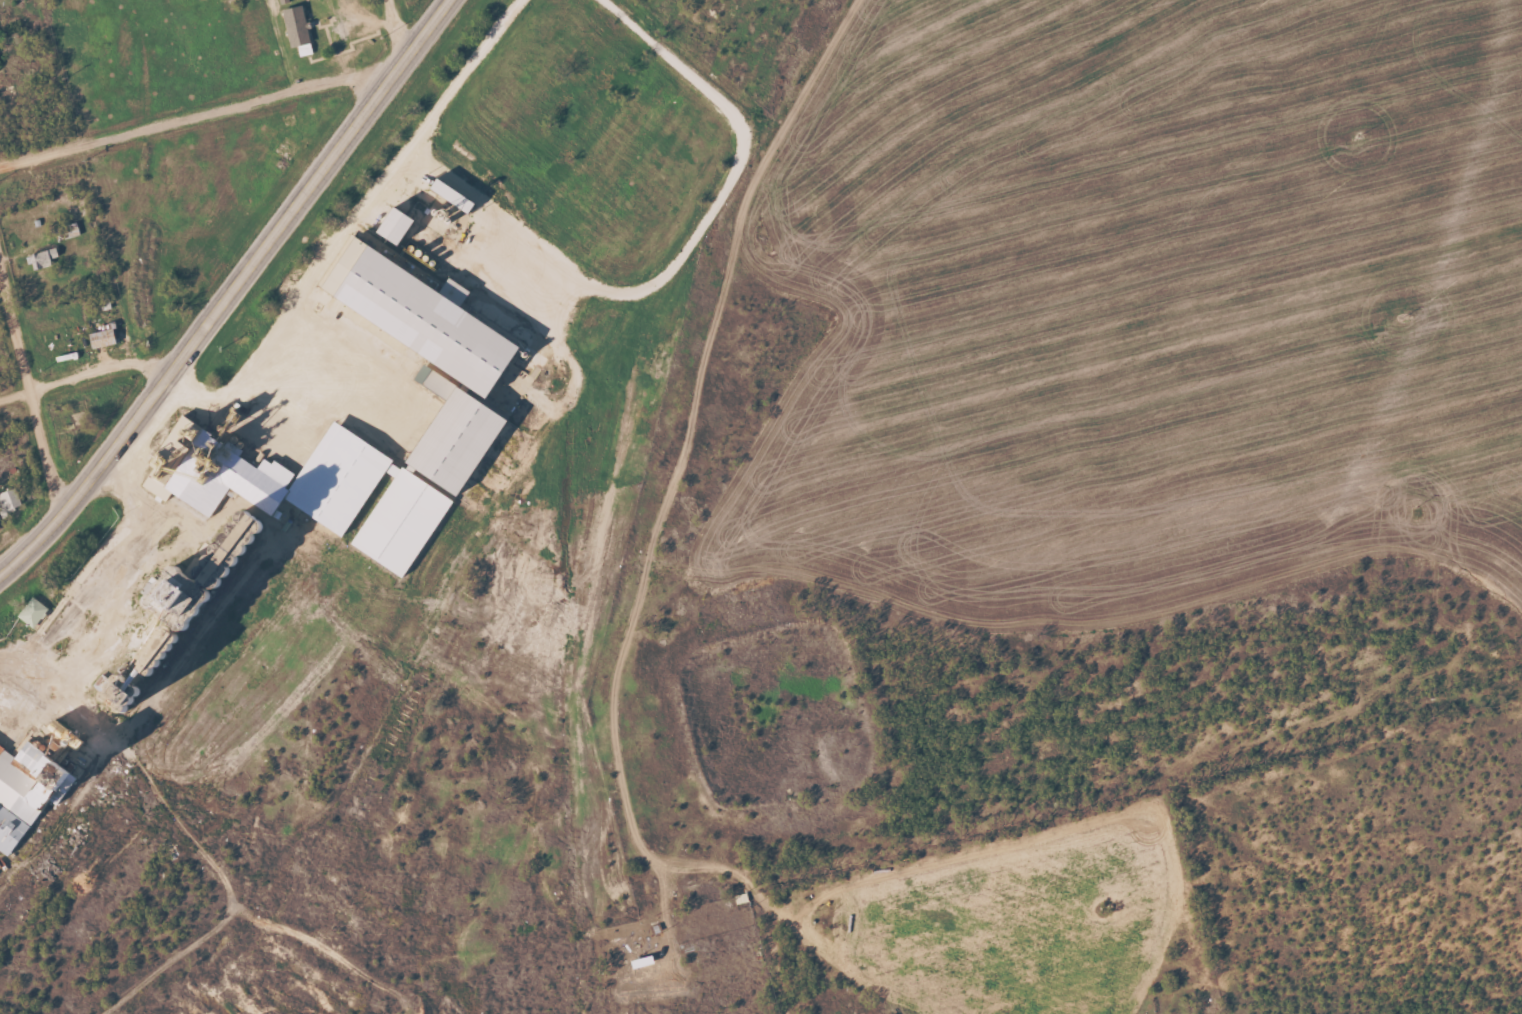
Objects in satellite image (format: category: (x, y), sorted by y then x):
building: (301, 29)
road: (394, 32)
road: (424, 32)
road: (201, 116)
building: (462, 194)
road: (350, 217)
building: (45, 257)
building: (351, 268)
building: (443, 319)
road: (207, 322)
building: (107, 337)
road: (84, 373)
road: (30, 390)
building: (470, 439)
building: (184, 468)
building: (10, 501)
building: (246, 564)
building: (36, 612)
building: (32, 791)

